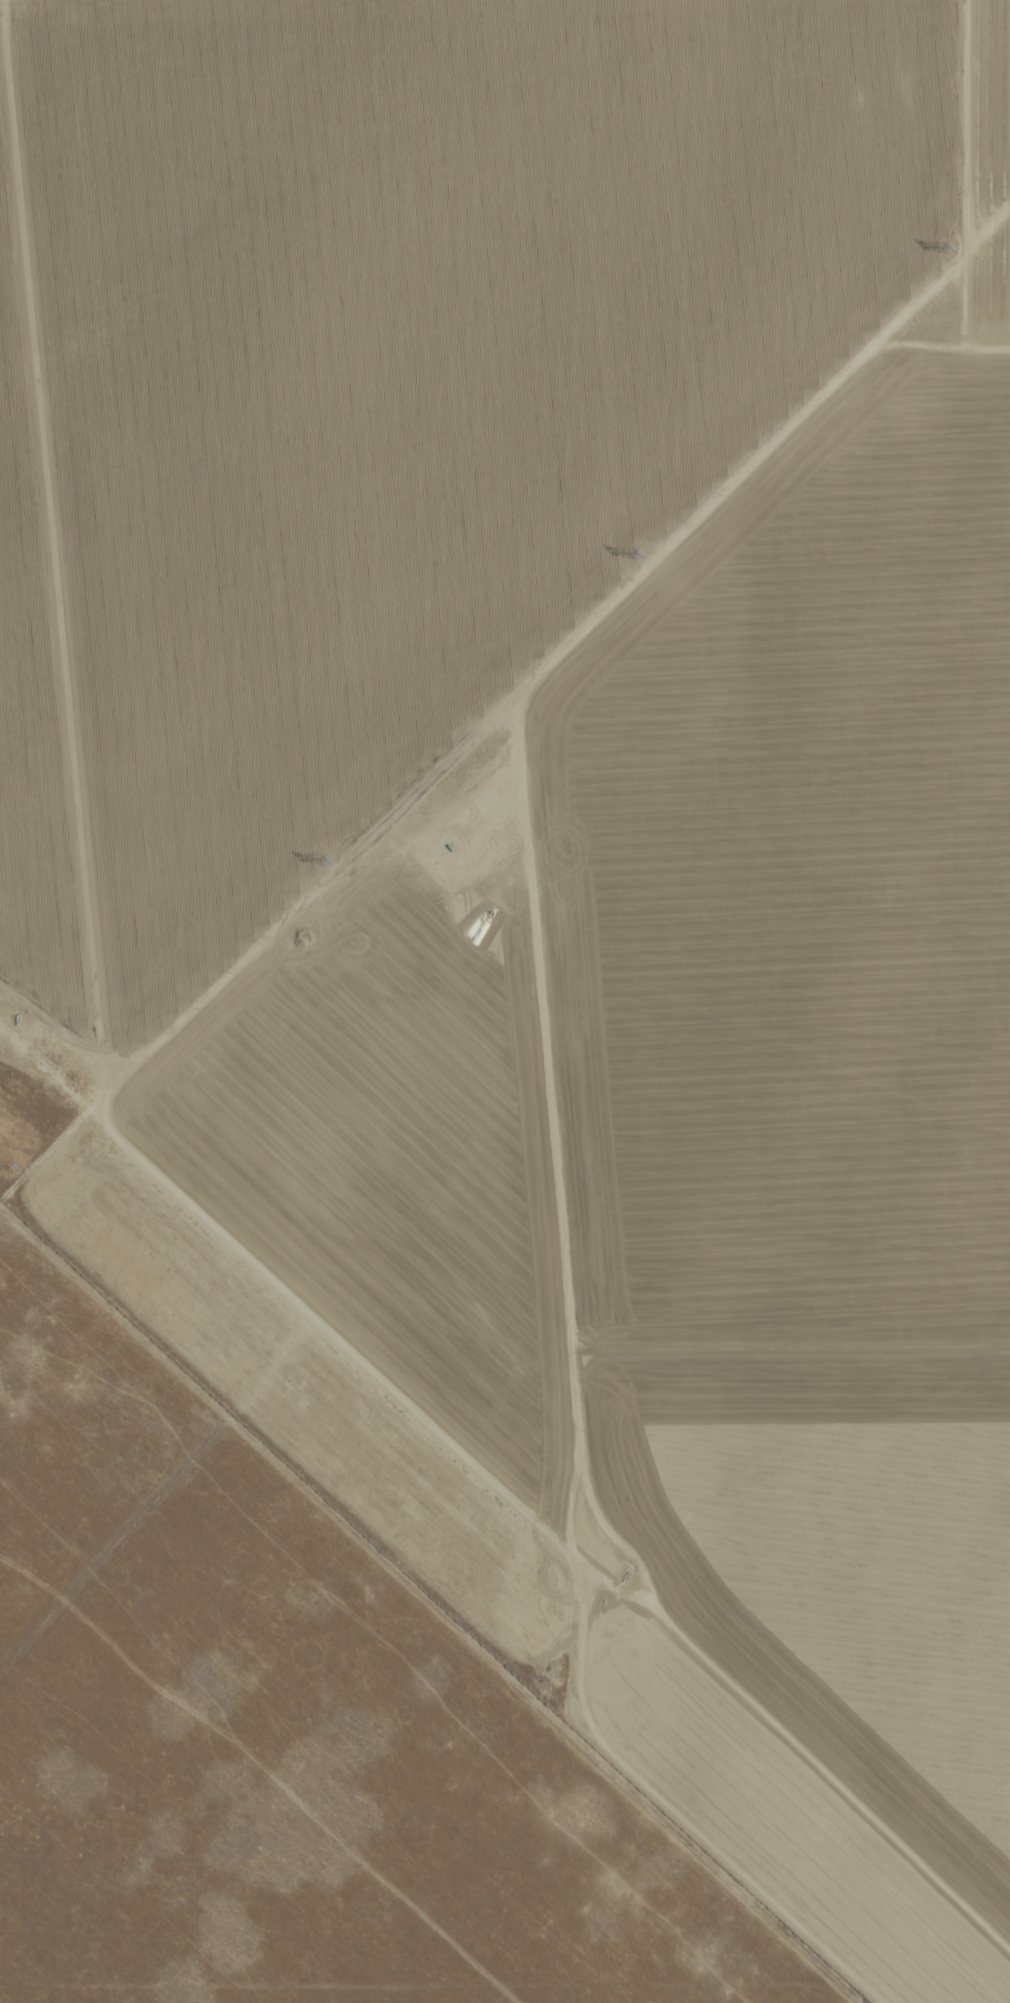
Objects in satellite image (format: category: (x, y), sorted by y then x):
power tower: (948, 246)
crop: (372, 352)
power tower: (638, 553)
power tower: (326, 857)
power tower: (13, 1162)
crop: (830, 1287)

